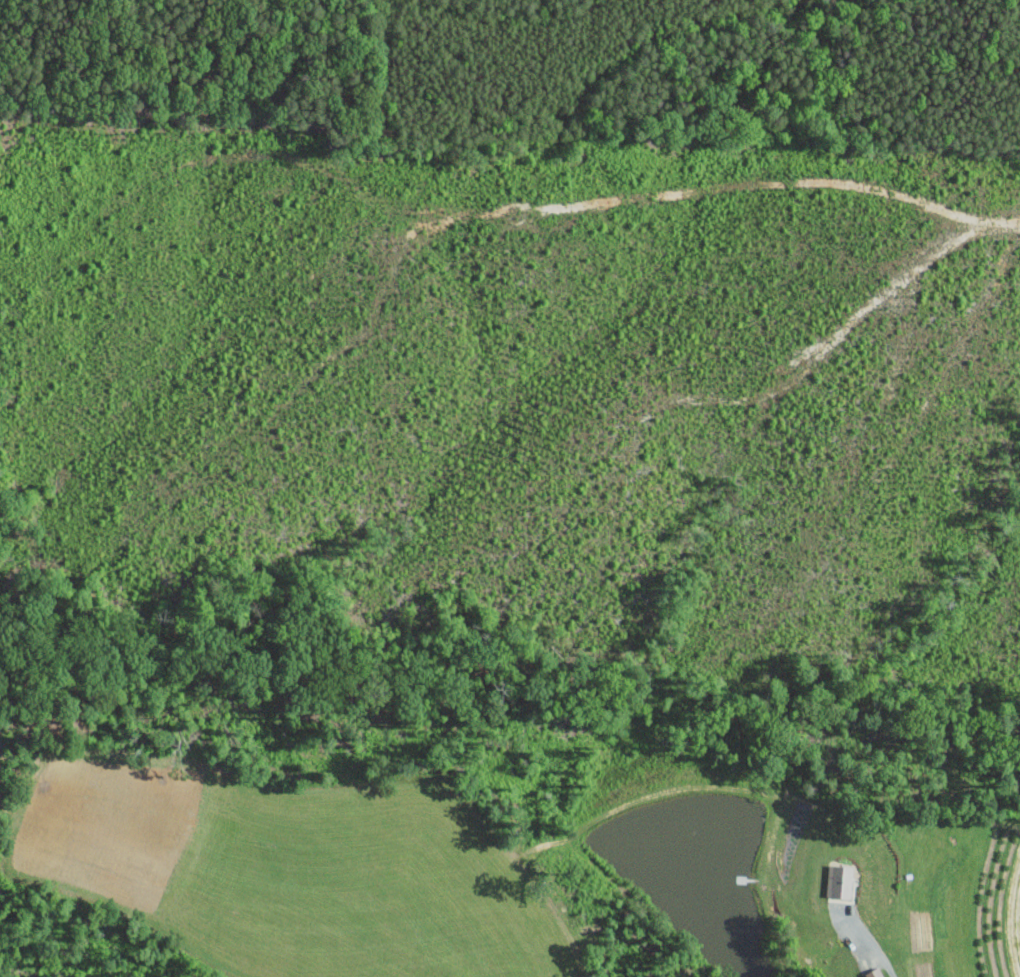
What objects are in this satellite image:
building: (839, 881)
road: (876, 946)
building: (874, 972)

